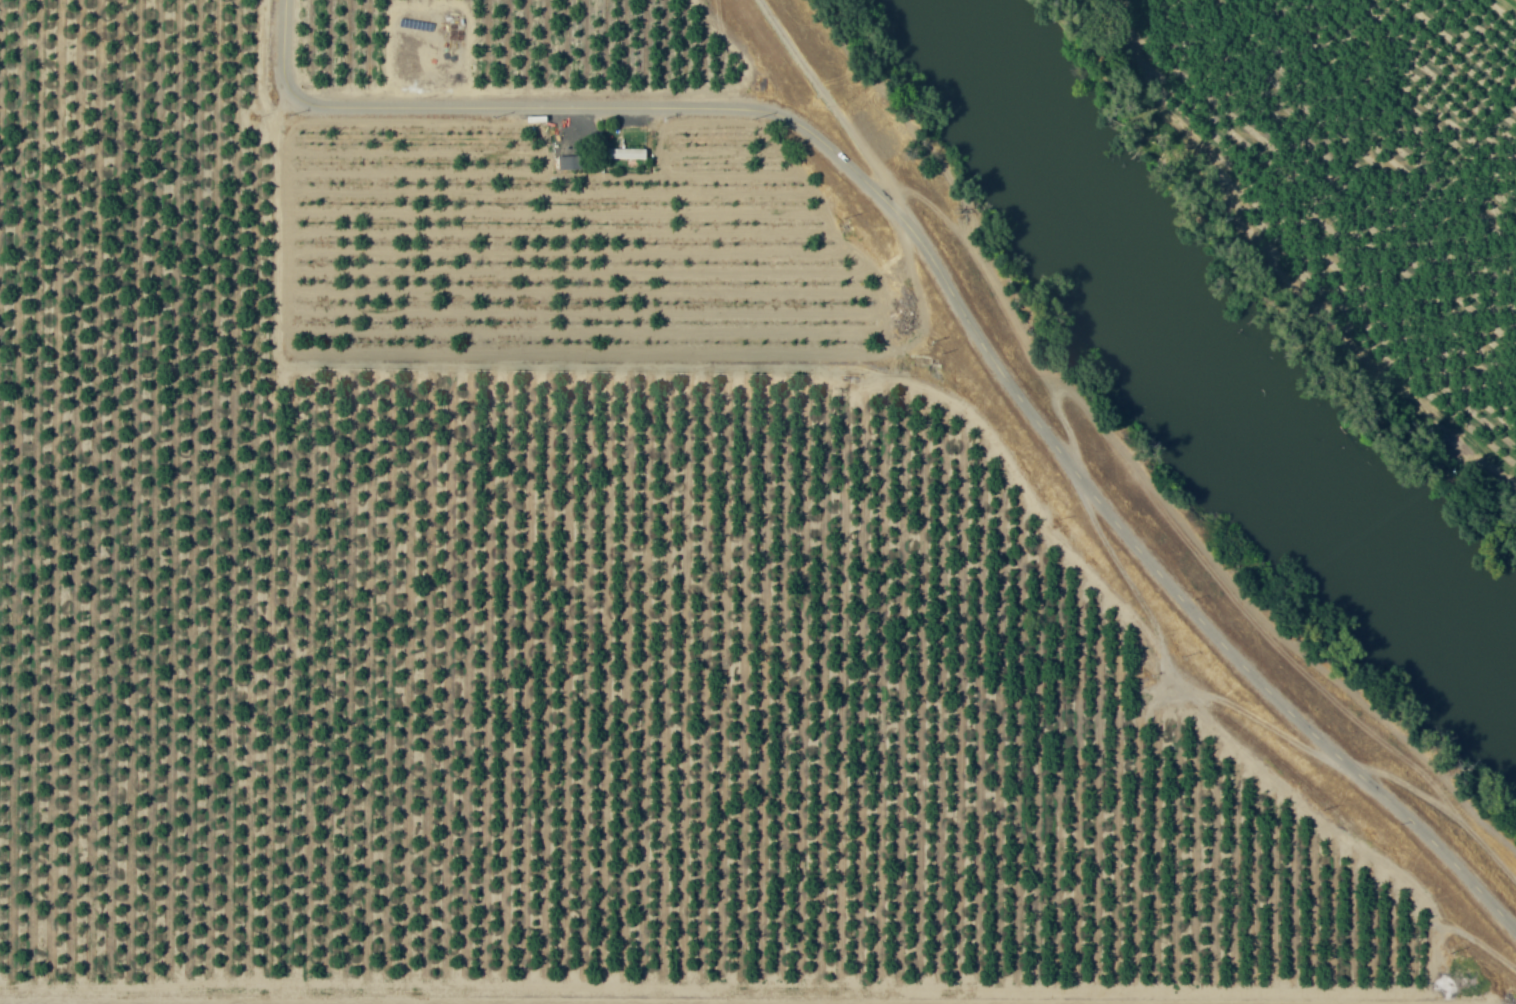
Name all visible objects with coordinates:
road: (831, 103)
building: (624, 153)
building: (568, 162)
road: (956, 299)
road: (1443, 932)
road: (496, 997)

